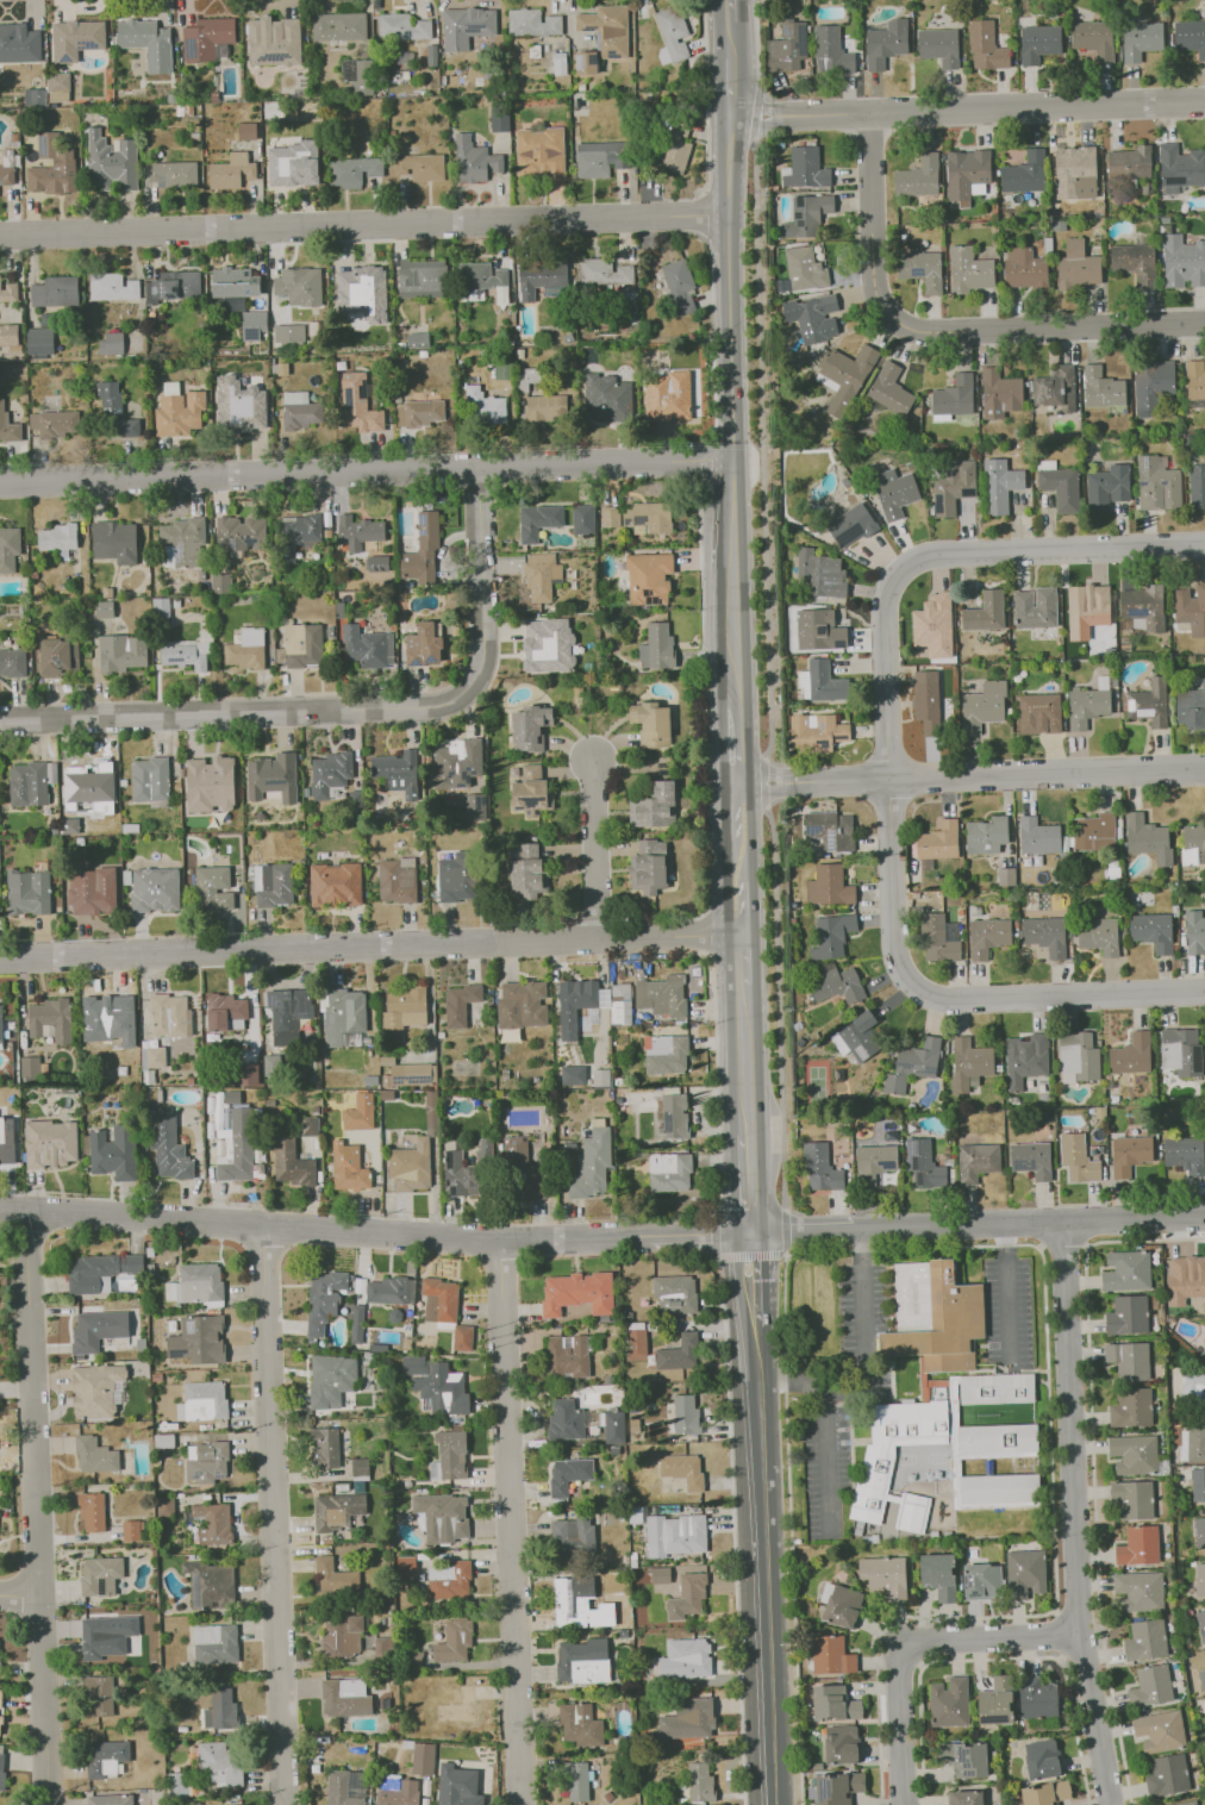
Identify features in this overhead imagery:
building: (532, 23)
building: (338, 26)
building: (401, 26)
building: (466, 26)
building: (1204, 26)
rooftop solar panel: (587, 27)
building: (606, 29)
rooftop solar panel: (782, 29)
road: (729, 30)
building: (670, 35)
building: (1190, 37)
building: (76, 38)
building: (207, 38)
rooftop solar panel: (800, 39)
building: (1093, 39)
building: (1140, 39)
building: (274, 40)
building: (146, 42)
building: (19, 43)
road: (762, 43)
building: (886, 43)
building: (1038, 43)
rooftop solar panel: (89, 44)
rooftop solar panel: (192, 46)
building: (787, 46)
building: (938, 46)
building: (985, 46)
rooftop solar panel: (608, 51)
building: (831, 51)
rooftop solar panel: (64, 58)
rooftop solar panel: (589, 60)
rooftop solar panel: (577, 62)
building: (585, 62)
building: (357, 75)
building: (57, 81)
road: (730, 87)
building: (35, 98)
road: (705, 105)
road: (757, 110)
road: (967, 112)
building: (246, 131)
rooftop solar panel: (40, 143)
building: (675, 145)
building: (539, 152)
building: (600, 158)
building: (474, 160)
building: (111, 162)
building: (1129, 162)
building: (293, 164)
building: (51, 167)
building: (419, 167)
building: (1179, 168)
building: (805, 169)
building: (354, 170)
building: (232, 171)
building: (1024, 173)
building: (1074, 173)
building: (171, 174)
building: (967, 174)
building: (6, 176)
building: (918, 176)
rooftop solar panel: (803, 201)
road: (705, 214)
rooftop solar panel: (800, 214)
building: (807, 216)
rooftop solar panel: (803, 224)
road: (363, 225)
building: (1134, 262)
building: (1182, 262)
building: (1078, 266)
building: (1024, 268)
building: (804, 269)
building: (922, 269)
building: (968, 270)
building: (605, 271)
rooftop solar panel: (919, 273)
building: (422, 277)
building: (541, 279)
building: (481, 281)
building: (233, 282)
building: (173, 286)
building: (299, 286)
building: (679, 286)
building: (112, 287)
road: (729, 287)
building: (8, 292)
building: (55, 292)
building: (362, 292)
building: (235, 302)
building: (813, 317)
road: (711, 321)
building: (252, 325)
rooftop solar panel: (249, 332)
building: (288, 333)
road: (947, 335)
building: (8, 336)
building: (417, 339)
building: (39, 342)
building: (111, 343)
building: (843, 376)
building: (1194, 379)
building: (1151, 385)
building: (1101, 387)
rooftop solar panel: (362, 389)
building: (889, 389)
building: (1055, 389)
building: (999, 393)
building: (666, 395)
building: (954, 395)
rooftop solar panel: (348, 398)
building: (607, 398)
rooftop solar panel: (341, 399)
building: (238, 404)
building: (357, 404)
building: (483, 407)
building: (544, 407)
building: (177, 411)
building: (299, 411)
building: (114, 412)
building: (418, 412)
building: (54, 423)
building: (7, 425)
road: (761, 461)
rooftop solar panel: (1144, 463)
road: (366, 470)
building: (1204, 470)
rooftop solar panel: (1141, 482)
rooftop solar panel: (1162, 482)
building: (1157, 483)
building: (999, 485)
building: (1195, 486)
building: (953, 487)
building: (1060, 487)
building: (1107, 487)
building: (894, 493)
building: (637, 517)
rooftop solar panel: (422, 519)
building: (582, 519)
rooftop solar panel: (638, 519)
building: (537, 520)
rooftop solar panel: (625, 520)
building: (851, 524)
building: (358, 531)
rooftop solar panel: (422, 531)
building: (239, 532)
building: (296, 535)
rooftop solar panel: (229, 536)
rooftop solar panel: (238, 536)
building: (58, 538)
rooftop solar panel: (224, 539)
building: (114, 541)
building: (182, 542)
rooftop solar panel: (248, 542)
rooftop solar panel: (232, 544)
building: (8, 548)
building: (422, 548)
rooftop solar panel: (177, 552)
road: (944, 554)
building: (376, 563)
building: (820, 573)
building: (541, 576)
building: (648, 577)
road: (733, 580)
building: (220, 582)
building: (1204, 588)
building: (1087, 605)
building: (1035, 607)
building: (1143, 607)
building: (1191, 607)
building: (104, 608)
building: (985, 612)
rooftop solar panel: (1136, 612)
building: (934, 625)
building: (818, 630)
building: (424, 644)
building: (302, 645)
building: (547, 645)
building: (367, 647)
building: (656, 647)
building: (245, 649)
building: (121, 652)
building: (185, 654)
building: (58, 657)
rooftop solar panel: (430, 657)
rooftop solar panel: (174, 658)
building: (12, 662)
rooftop solar panel: (413, 663)
building: (820, 681)
building: (1204, 682)
building: (926, 701)
building: (1149, 702)
building: (982, 706)
building: (1190, 708)
road: (350, 710)
building: (1038, 713)
building: (650, 724)
rooftop solar panel: (822, 725)
building: (530, 727)
building: (816, 732)
rooftop solar panel: (839, 737)
road: (736, 741)
rooftop solar panel: (820, 743)
building: (457, 763)
building: (398, 772)
building: (330, 773)
road: (999, 775)
building: (89, 776)
building: (271, 776)
building: (149, 779)
building: (30, 782)
road: (764, 782)
building: (210, 783)
road: (764, 783)
building: (531, 792)
rooftop solar panel: (531, 801)
building: (654, 806)
building: (474, 807)
rooftop solar panel: (518, 807)
building: (1204, 811)
road: (737, 818)
building: (68, 822)
rooftop solar panel: (812, 830)
building: (830, 830)
building: (1094, 832)
building: (986, 835)
building: (1037, 836)
building: (1147, 838)
rooftop solar panel: (830, 841)
building: (938, 841)
building: (1192, 844)
road: (594, 849)
building: (648, 867)
building: (526, 870)
building: (457, 876)
building: (1006, 876)
building: (397, 880)
building: (335, 883)
building: (273, 885)
building: (829, 886)
building: (213, 888)
building: (154, 889)
building: (27, 892)
road: (739, 894)
building: (1204, 919)
building: (1151, 931)
building: (1194, 931)
building: (1044, 935)
building: (1098, 935)
building: (831, 936)
building: (987, 937)
building: (939, 938)
road: (369, 948)
road: (742, 963)
building: (835, 983)
building: (661, 995)
road: (950, 1000)
building: (460, 1004)
building: (522, 1004)
building: (574, 1004)
building: (619, 1004)
building: (404, 1007)
road: (779, 1008)
building: (225, 1012)
building: (287, 1014)
building: (343, 1014)
building: (170, 1016)
building: (51, 1019)
building: (112, 1019)
building: (0, 1026)
building: (856, 1037)
building: (1180, 1051)
building: (666, 1054)
building: (1131, 1054)
rooftop solar panel: (857, 1055)
building: (152, 1057)
building: (1078, 1057)
building: (1025, 1060)
rooftop solar panel: (1198, 1060)
road: (745, 1062)
building: (969, 1062)
building: (271, 1064)
building: (912, 1064)
building: (30, 1068)
rooftop solar panel: (924, 1068)
building: (413, 1073)
building: (246, 1074)
building: (572, 1074)
building: (600, 1076)
rooftop solar panel: (410, 1079)
building: (358, 1112)
building: (431, 1113)
building: (674, 1116)
building: (308, 1125)
building: (6, 1141)
building: (50, 1143)
building: (168, 1147)
building: (238, 1148)
building: (113, 1151)
rooftop solar panel: (910, 1154)
building: (1129, 1154)
building: (1185, 1154)
building: (1031, 1158)
building: (1078, 1158)
building: (874, 1161)
building: (976, 1161)
building: (291, 1162)
rooftop solar panel: (887, 1163)
rooftop solar panel: (914, 1163)
building: (923, 1163)
building: (591, 1164)
building: (411, 1166)
building: (348, 1167)
building: (820, 1168)
building: (466, 1170)
building: (524, 1172)
building: (668, 1172)
road: (749, 1185)
road: (1032, 1224)
road: (805, 1230)
road: (324, 1231)
road: (785, 1233)
road: (699, 1235)
road: (716, 1235)
road: (1064, 1242)
road: (1000, 1245)
road: (749, 1255)
road: (785, 1255)
building: (99, 1272)
building: (1129, 1272)
road: (753, 1280)
building: (1186, 1280)
building: (195, 1284)
building: (391, 1291)
building: (576, 1293)
building: (674, 1294)
road: (1009, 1295)
building: (323, 1300)
building: (439, 1300)
building: (1129, 1316)
rooftop solar panel: (189, 1328)
building: (98, 1329)
building: (462, 1337)
building: (196, 1339)
building: (636, 1344)
rooftop solar panel: (176, 1354)
building: (678, 1354)
building: (567, 1355)
road: (866, 1360)
building: (1130, 1360)
building: (414, 1366)
building: (331, 1380)
rooftop solar panel: (117, 1386)
building: (1194, 1388)
building: (94, 1389)
building: (442, 1389)
rooftop solar panel: (117, 1397)
building: (202, 1401)
building: (944, 1401)
building: (1203, 1407)
building: (1132, 1409)
building: (685, 1414)
building: (564, 1419)
building: (1204, 1420)
building: (613, 1428)
building: (1193, 1445)
building: (325, 1448)
building: (94, 1455)
building: (451, 1455)
building: (1138, 1456)
road: (826, 1460)
building: (206, 1462)
building: (360, 1467)
road: (1093, 1468)
building: (682, 1469)
building: (943, 1473)
building: (568, 1474)
rooftop solar panel: (195, 1475)
rooftop solar panel: (218, 1476)
building: (1199, 1484)
building: (1134, 1499)
building: (164, 1504)
road: (38, 1509)
building: (92, 1511)
building: (337, 1511)
road: (1075, 1514)
road: (274, 1516)
building: (442, 1516)
building: (213, 1523)
road: (511, 1524)
building: (131, 1530)
road: (731, 1530)
building: (1200, 1531)
building: (674, 1535)
building: (572, 1536)
building: (1140, 1547)
building: (1193, 1563)
road: (766, 1566)
building: (1026, 1573)
building: (100, 1575)
building: (333, 1575)
building: (656, 1575)
building: (886, 1575)
building: (939, 1575)
building: (449, 1580)
building: (1200, 1580)
building: (984, 1581)
rooftop solar panel: (101, 1584)
building: (210, 1585)
rooftop solar panel: (194, 1589)
building: (1141, 1591)
road: (20, 1594)
building: (573, 1594)
building: (687, 1595)
building: (842, 1605)
building: (616, 1611)
building: (1201, 1624)
road: (1057, 1634)
building: (106, 1635)
building: (342, 1635)
building: (454, 1641)
building: (1147, 1641)
road: (909, 1642)
building: (214, 1644)
building: (383, 1645)
building: (0, 1648)
building: (832, 1656)
building: (685, 1659)
road: (995, 1660)
building: (582, 1661)
building: (1203, 1679)
building: (818, 1680)
building: (1153, 1686)
building: (100, 1694)
building: (345, 1697)
building: (0, 1698)
building: (1038, 1698)
building: (950, 1703)
building: (997, 1703)
building: (836, 1704)
building: (456, 1706)
building: (220, 1710)
building: (688, 1719)
rooftop solar panel: (986, 1720)
building: (0, 1722)
building: (580, 1725)
building: (1162, 1731)
building: (843, 1744)
building: (1203, 1748)
building: (106, 1757)
building: (423, 1759)
building: (966, 1759)
building: (1044, 1760)
building: (219, 1763)
building: (1, 1766)
building: (1168, 1776)
building: (575, 1780)
building: (699, 1781)
building: (177, 1785)
building: (457, 1786)
building: (345, 1787)
building: (838, 1788)
building: (398, 1791)
building: (1048, 1793)
building: (966, 1798)
building: (110, 1799)
building: (1188, 1803)

